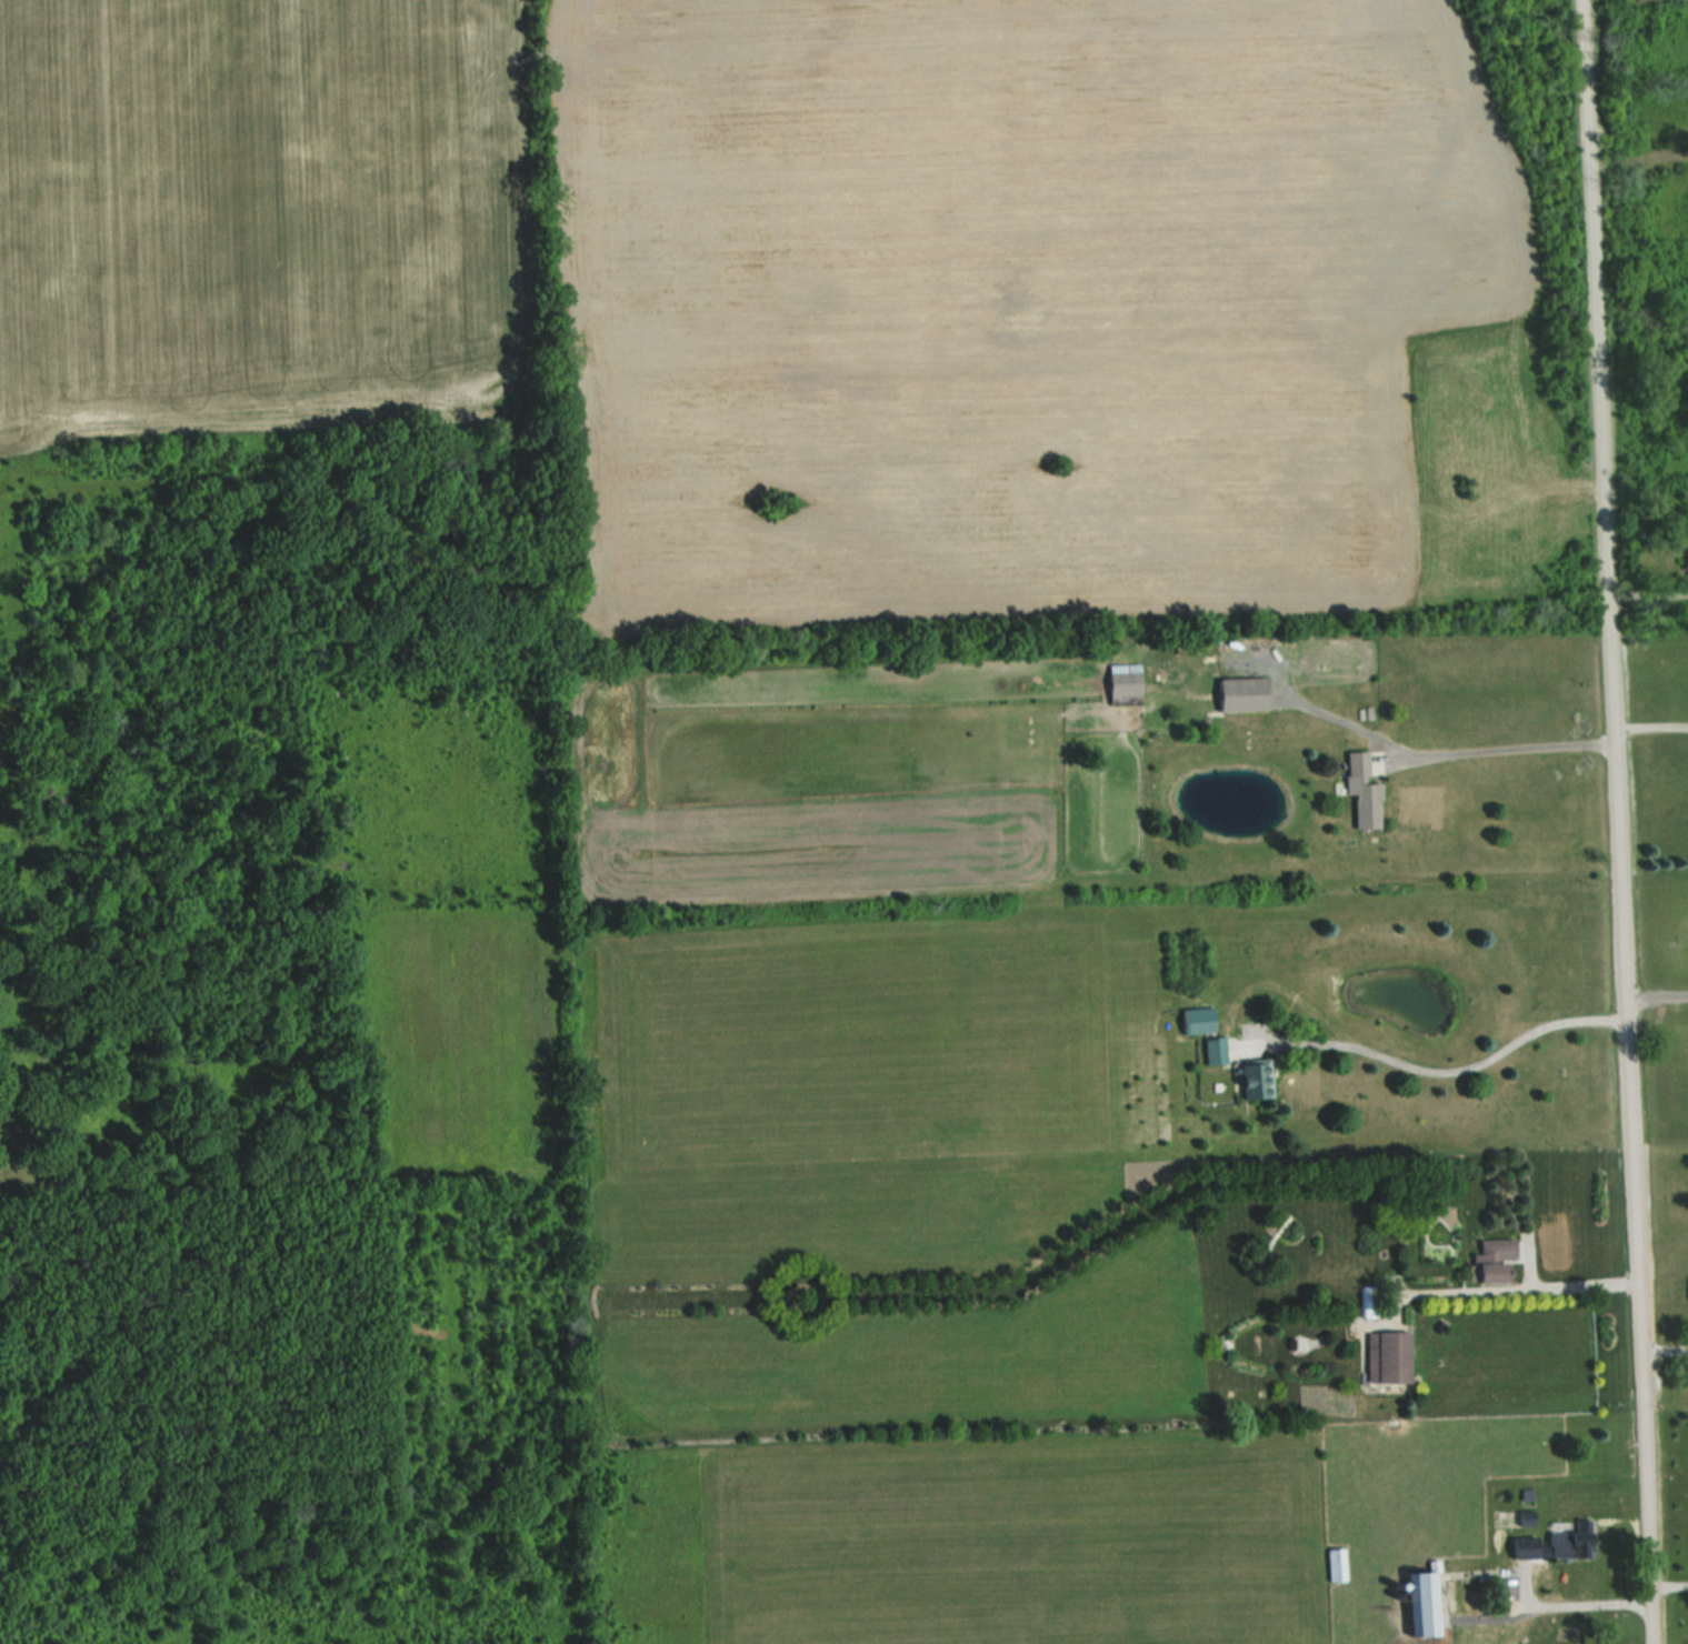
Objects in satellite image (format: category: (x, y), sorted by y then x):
building: (1686, 564)
building: (1240, 695)
road: (1649, 724)
road: (1505, 748)
building: (1360, 791)
road: (1614, 822)
road: (1655, 993)
building: (1195, 1022)
building: (1212, 1052)
road: (1454, 1070)
building: (1253, 1080)
building: (1489, 1262)
road: (1575, 1284)
building: (1367, 1302)
road: (1662, 1351)
building: (1387, 1360)
building: (1570, 1542)
building: (1522, 1547)
building: (1335, 1566)
road: (1668, 1585)
road: (1574, 1604)
building: (1419, 1605)

